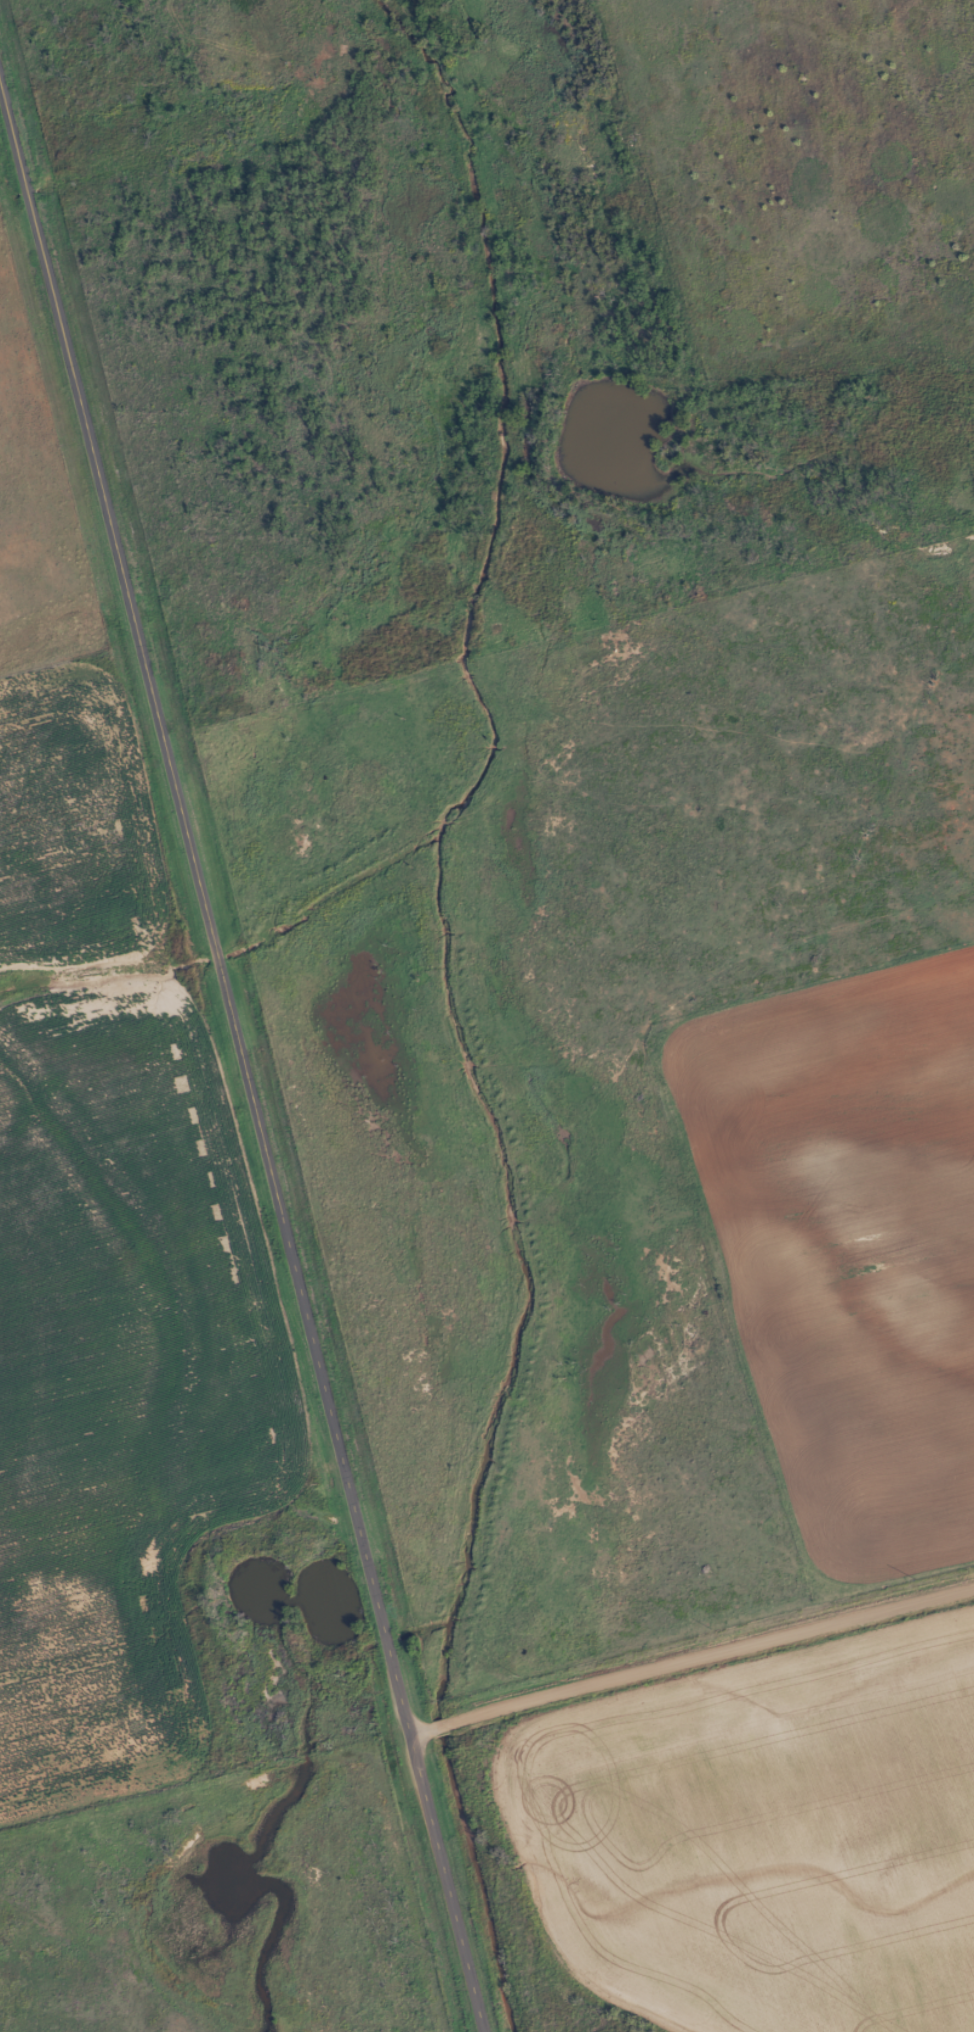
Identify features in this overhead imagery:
road: (242, 1058)
road: (692, 1658)

